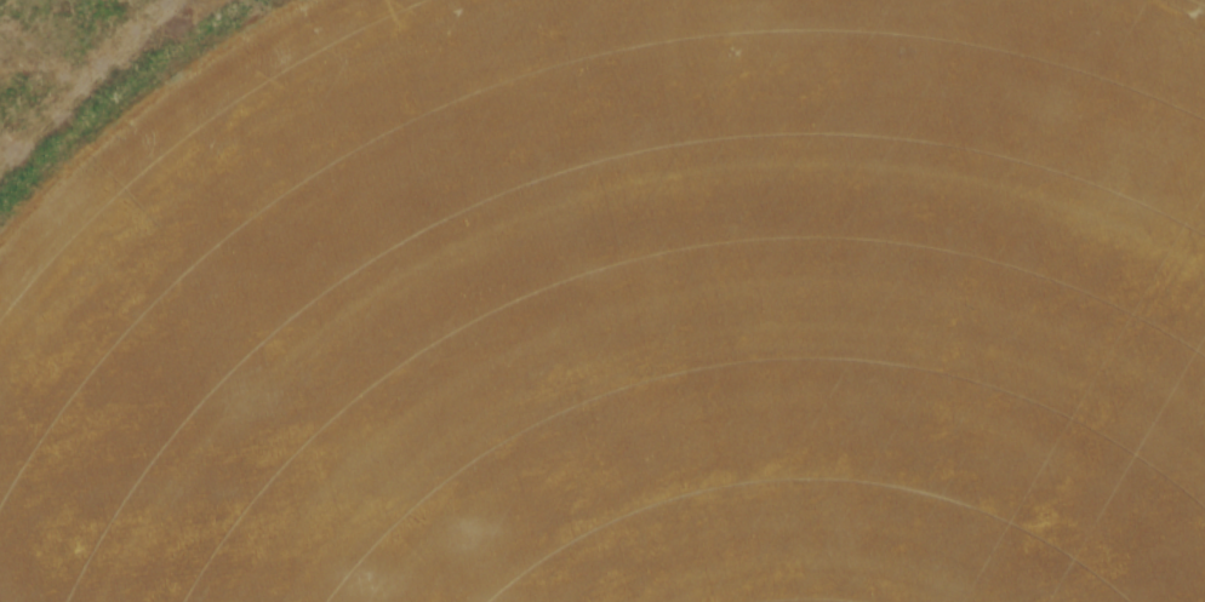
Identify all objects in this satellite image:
crop: (626, 311)

